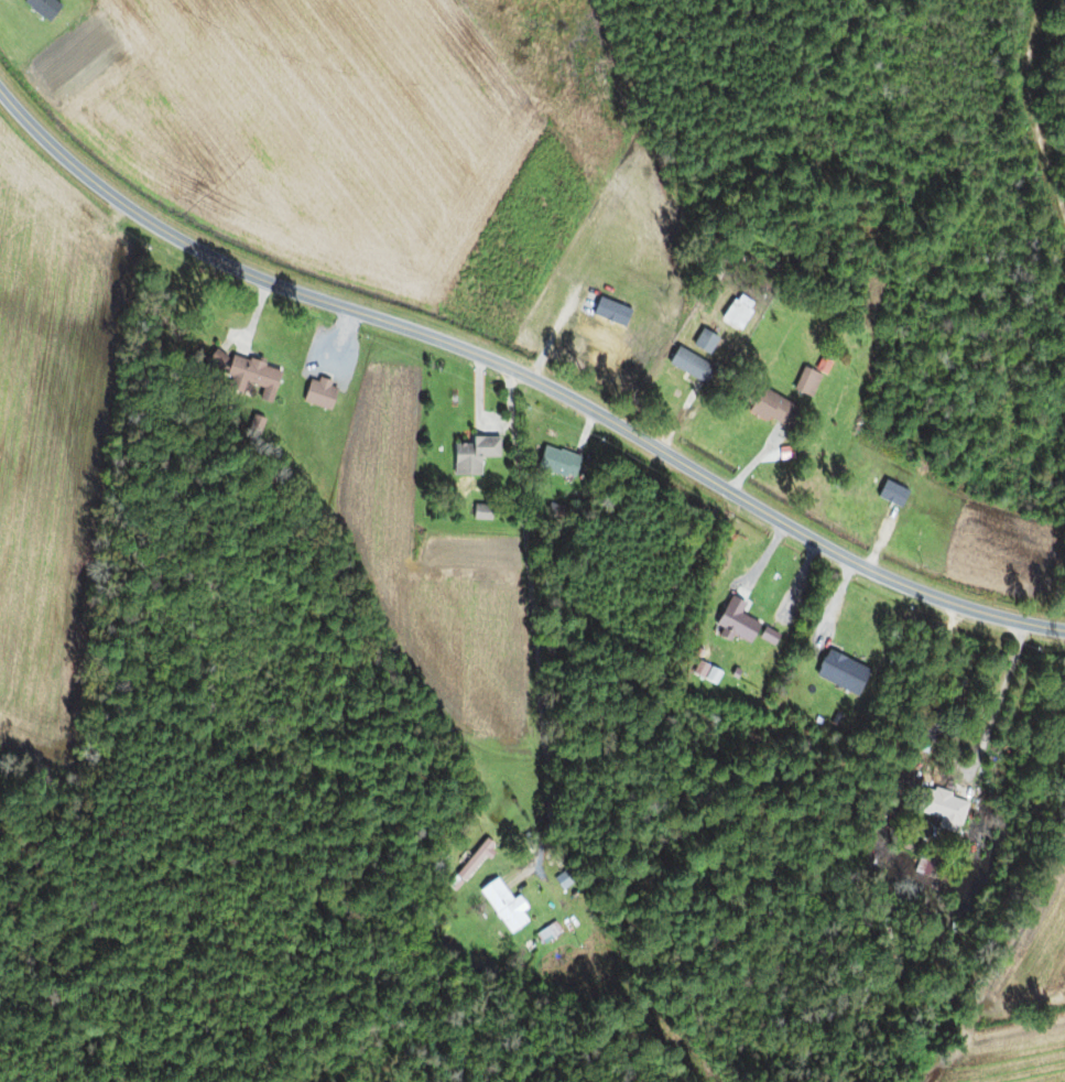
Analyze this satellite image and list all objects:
building: (41, 8)
building: (737, 312)
building: (704, 342)
road: (522, 365)
building: (688, 365)
building: (249, 376)
building: (805, 383)
building: (317, 392)
building: (769, 408)
building: (472, 453)
building: (556, 462)
building: (480, 511)
road: (532, 581)
building: (735, 619)
building: (767, 635)
building: (840, 671)
building: (933, 723)
road: (993, 749)
building: (942, 807)
building: (472, 859)
building: (502, 905)
building: (546, 932)
road: (283, 991)

